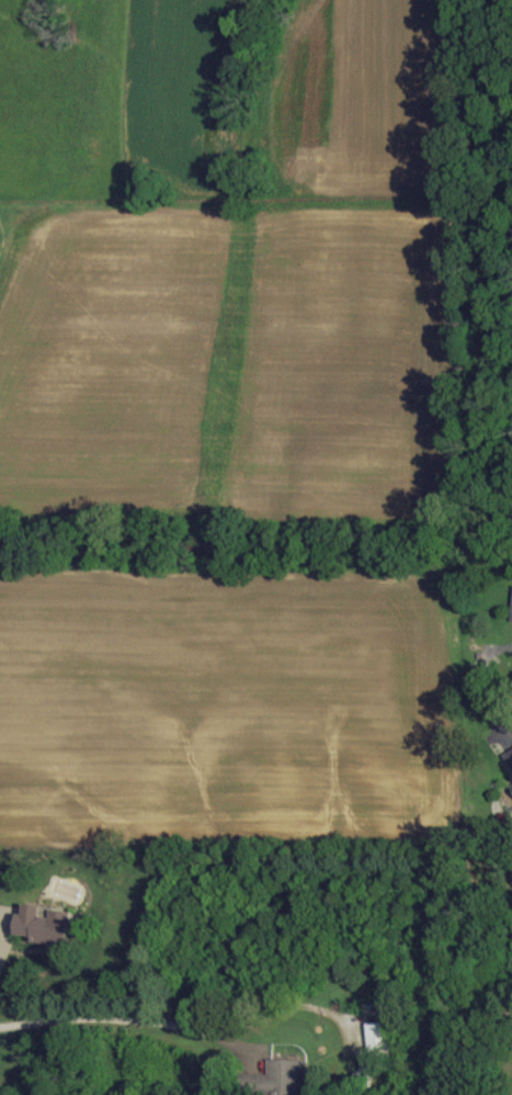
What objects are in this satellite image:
road: (480, 686)
building: (509, 759)
building: (45, 925)
road: (0, 944)
road: (116, 1016)
building: (379, 1039)
building: (281, 1079)

